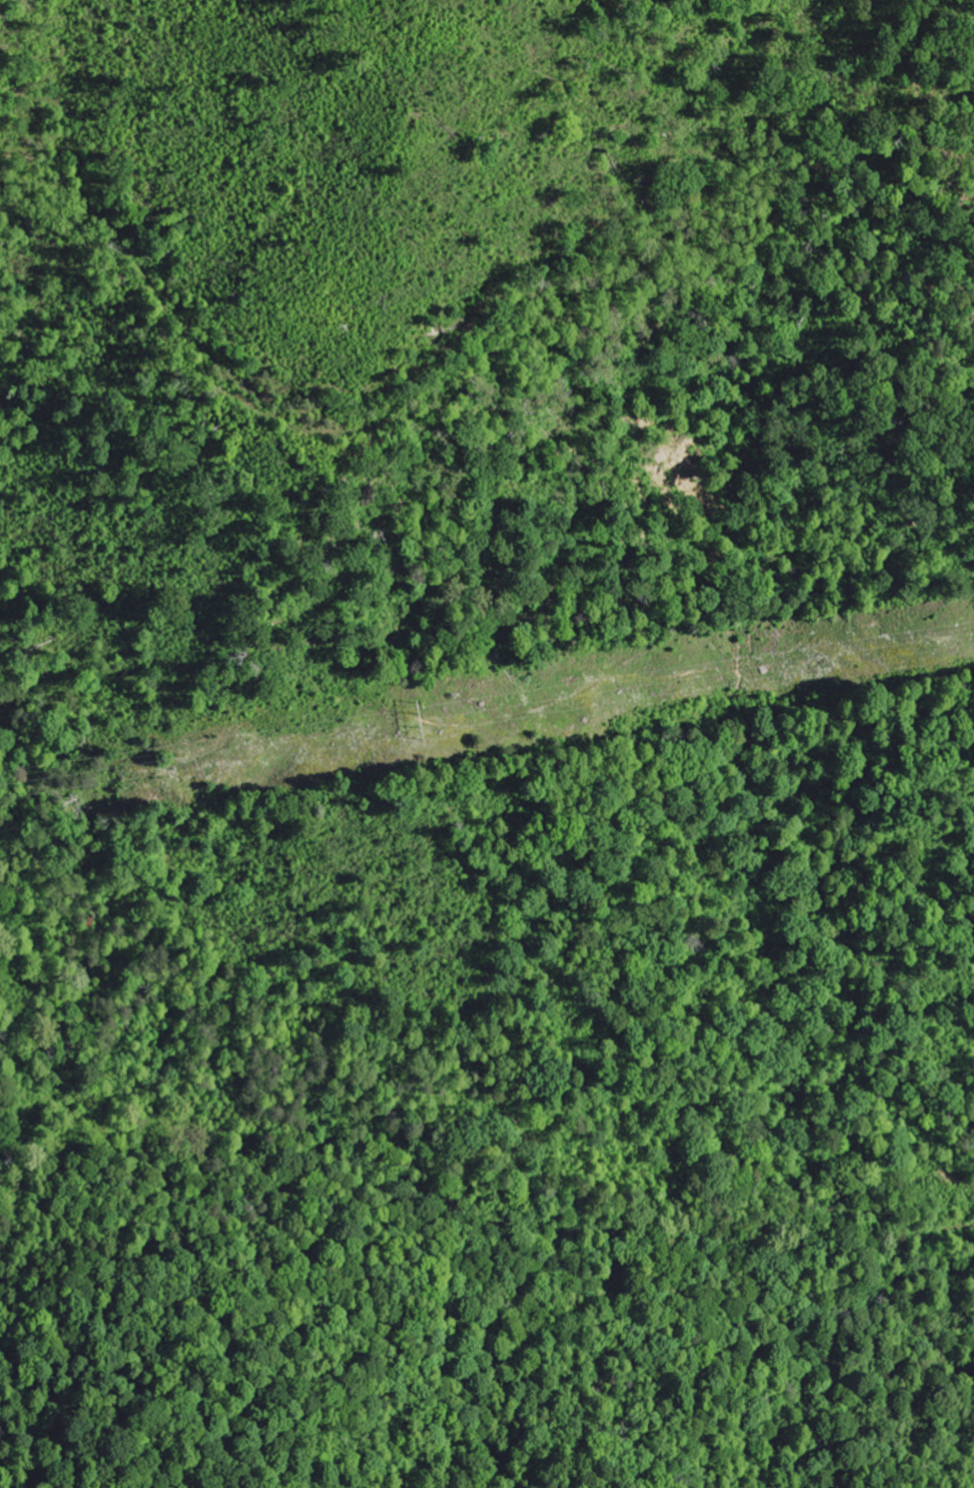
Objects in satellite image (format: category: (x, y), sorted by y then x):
road: (915, 1184)

